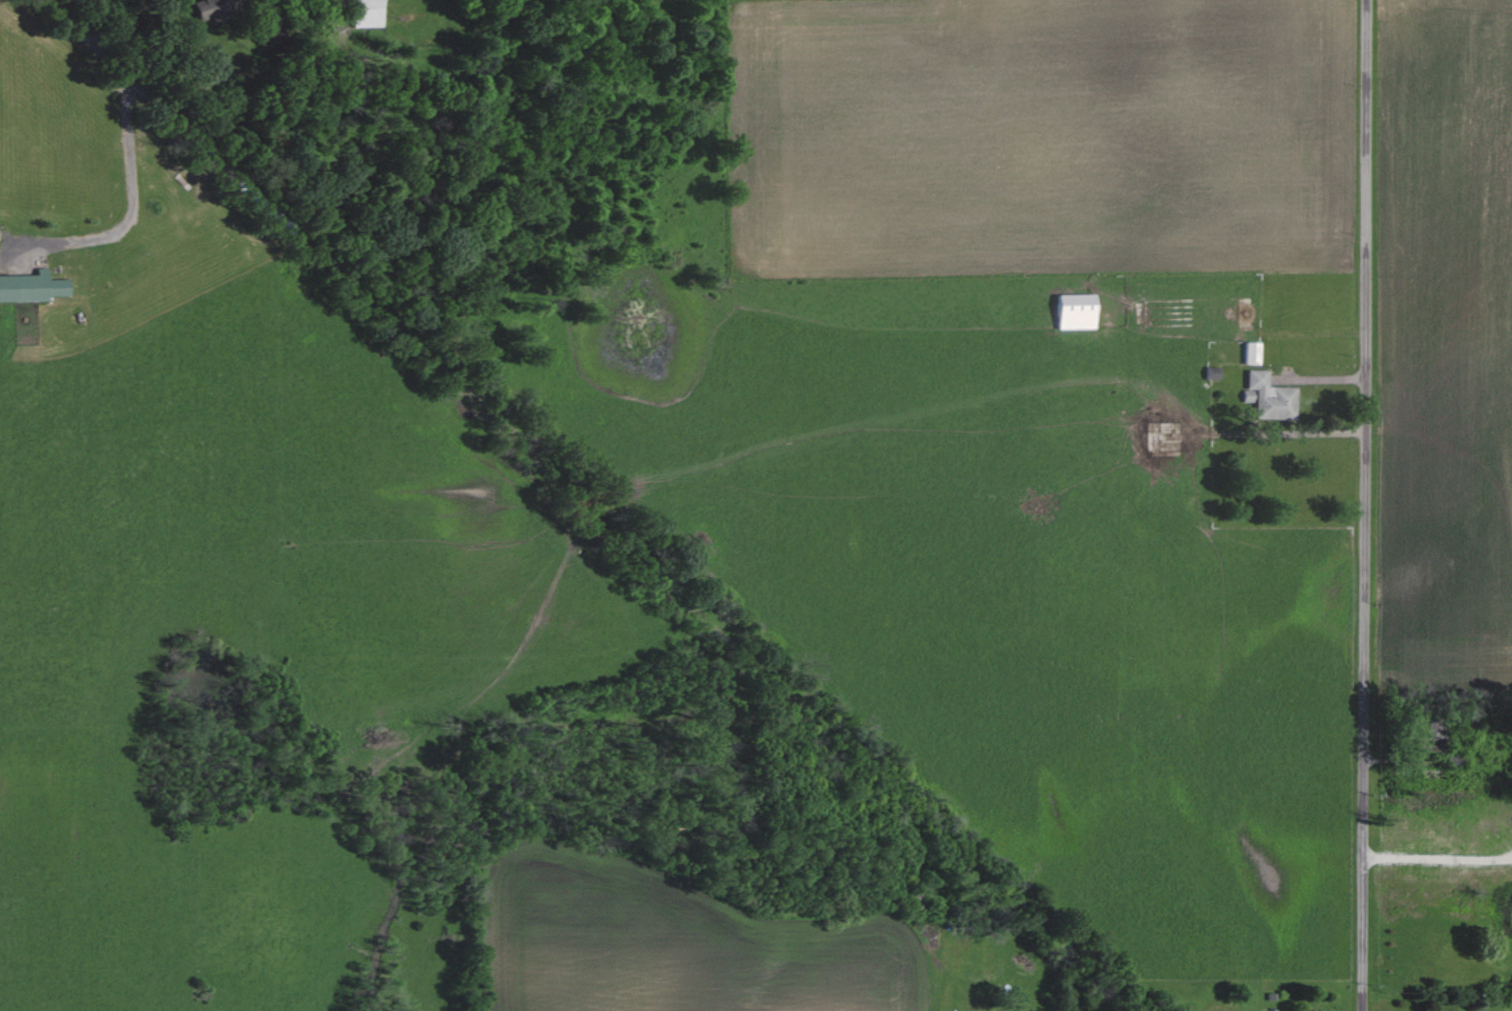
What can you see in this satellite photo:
building: (208, 8)
building: (369, 13)
building: (32, 287)
building: (1077, 310)
building: (1253, 352)
building: (1213, 371)
building: (1269, 393)
road: (1361, 505)
road: (1509, 856)
road: (1431, 858)
road: (1509, 859)

